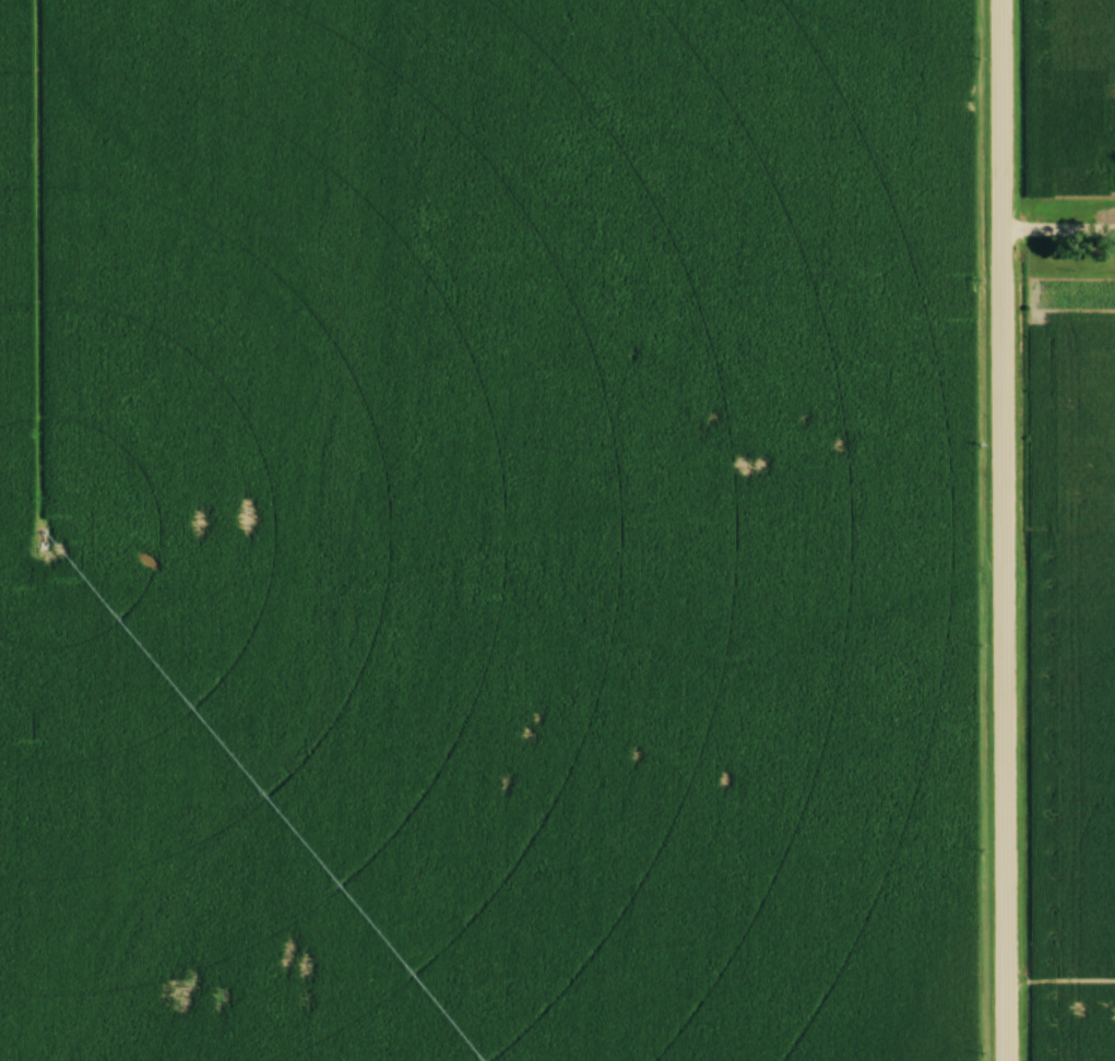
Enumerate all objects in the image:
road: (1053, 234)
road: (993, 530)

